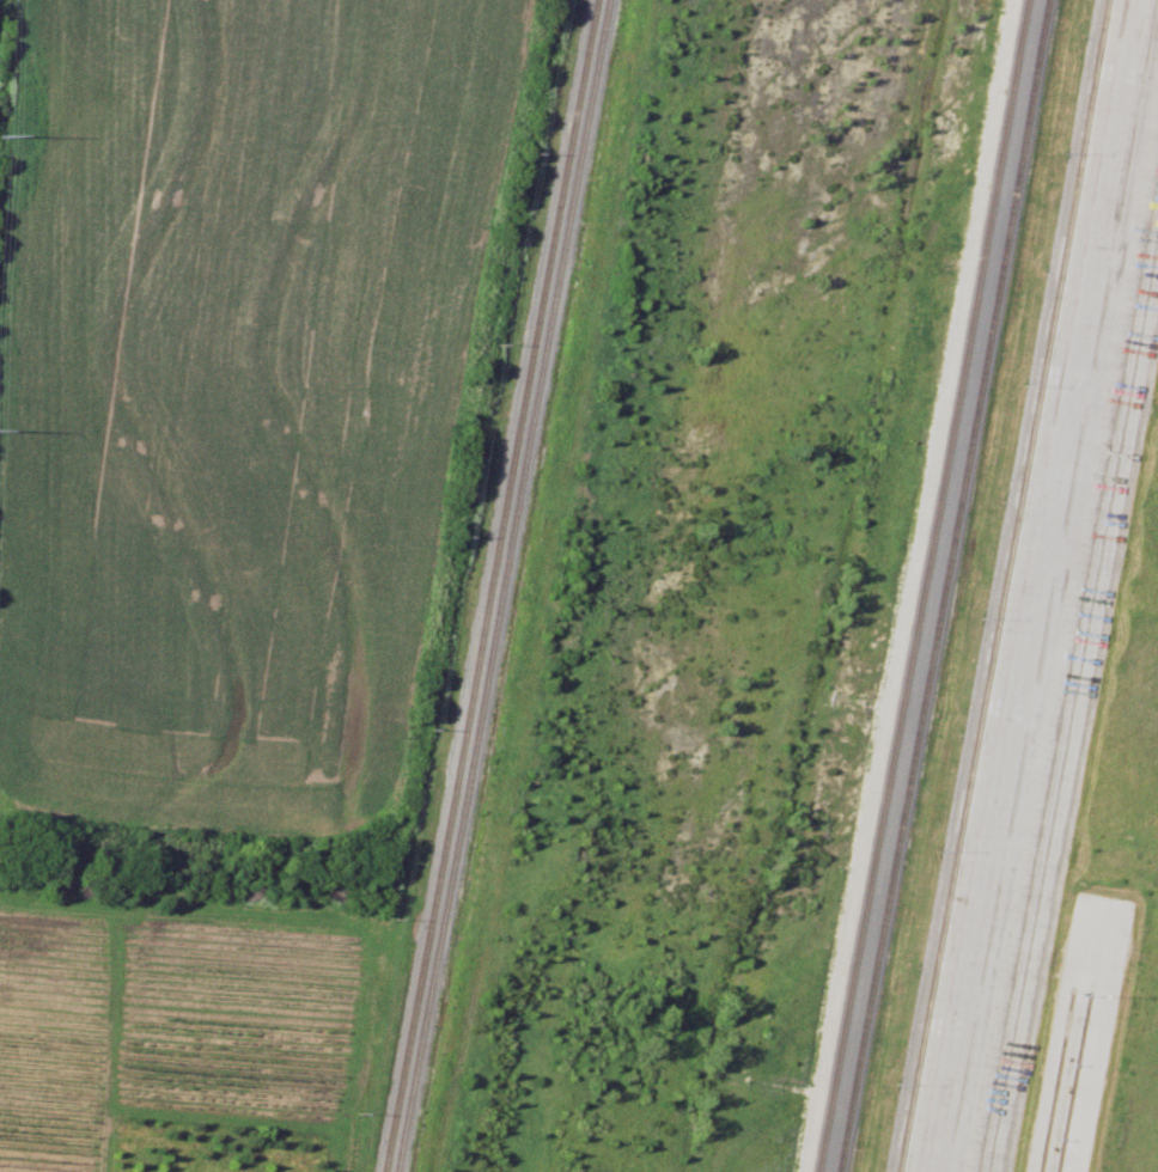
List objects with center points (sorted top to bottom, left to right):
crop: (250, 403)
railway: (489, 586)
railway: (501, 586)
railway: (944, 586)
railway: (1002, 586)
railway: (1055, 1078)
railway: (1073, 1079)

